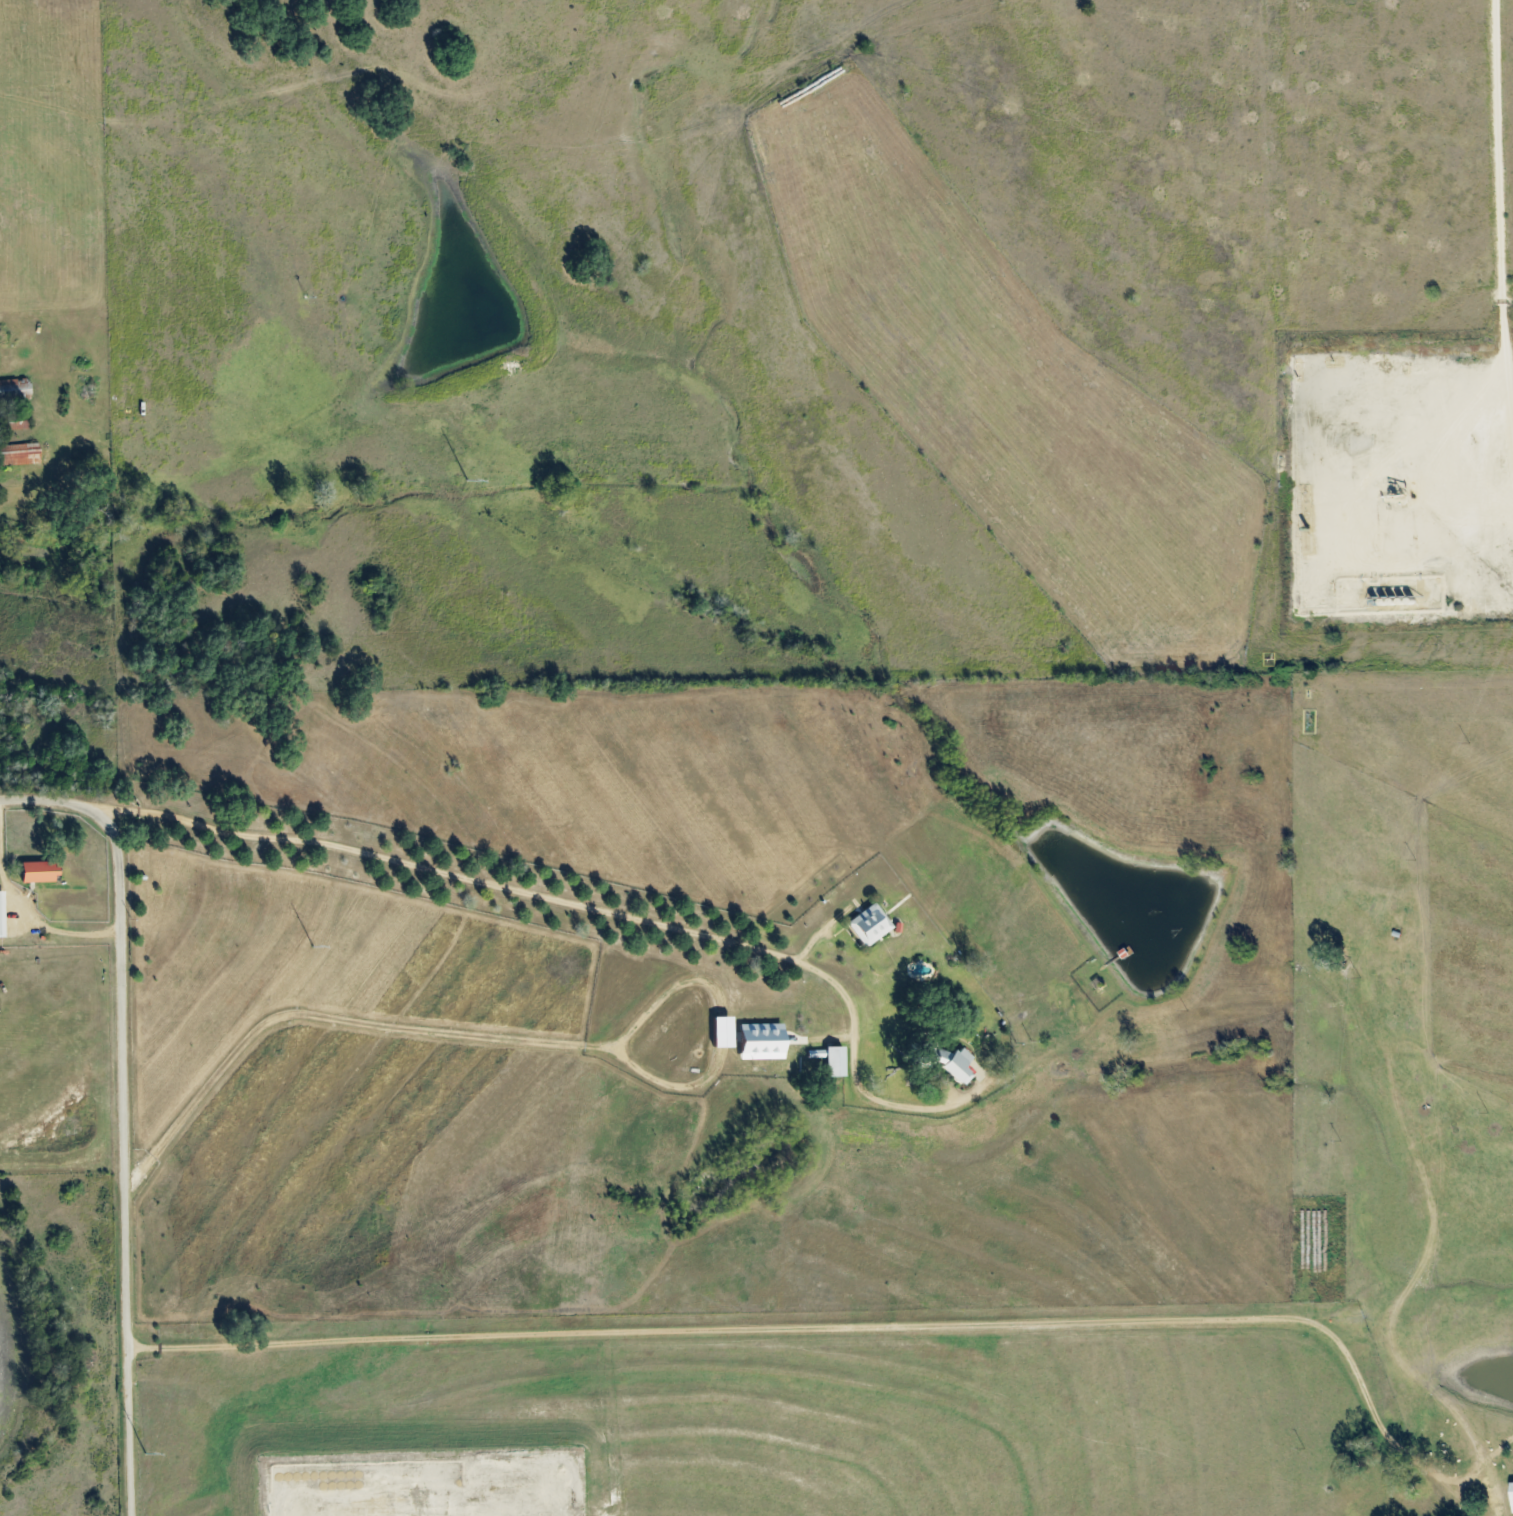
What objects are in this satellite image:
building: (15, 390)
building: (18, 425)
building: (21, 454)
power tower: (465, 480)
building: (42, 872)
road: (498, 883)
building: (2, 915)
building: (866, 925)
power tower: (312, 947)
building: (716, 1032)
building: (755, 1041)
building: (827, 1060)
building: (946, 1063)
road: (120, 1111)
road: (865, 1325)
power tower: (144, 1454)
building: (1511, 1497)

